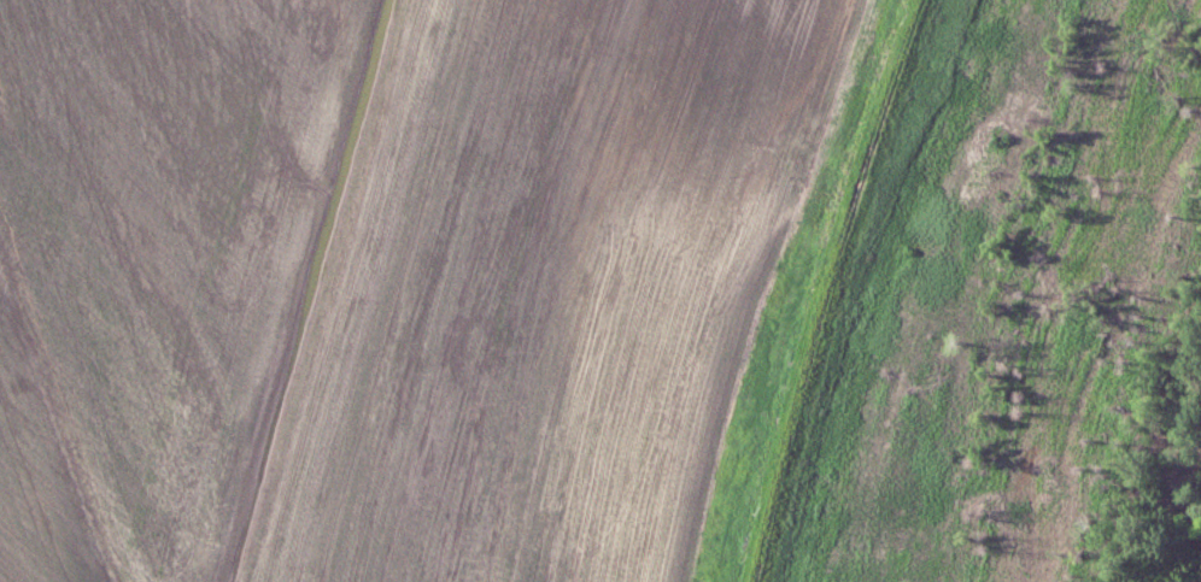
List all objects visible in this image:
road: (863, 283)

